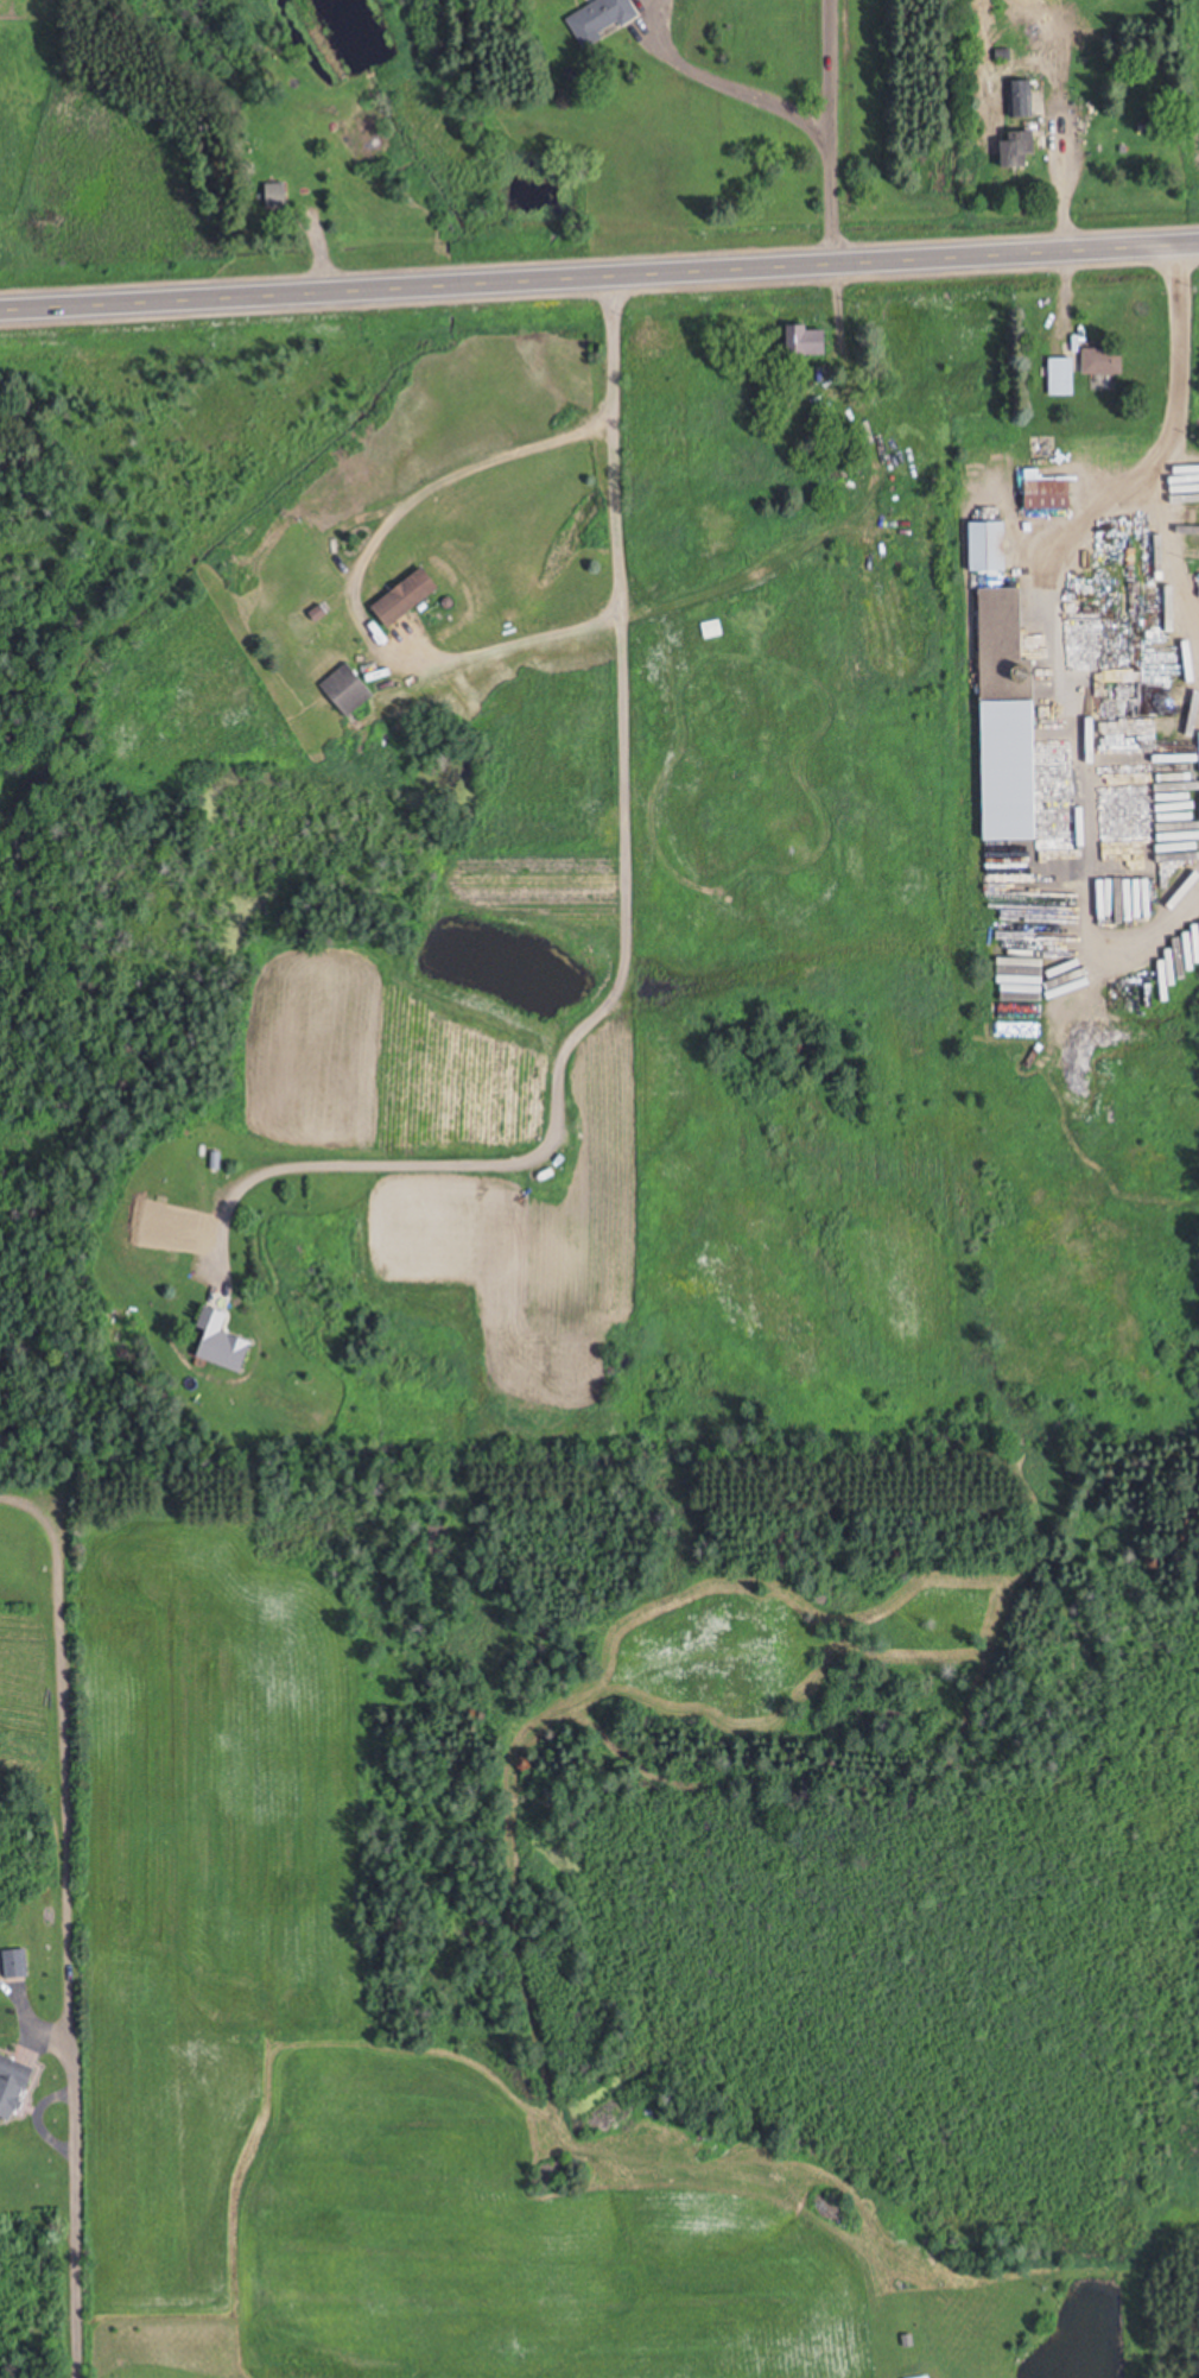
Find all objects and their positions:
building: (602, 19)
building: (1021, 147)
building: (279, 197)
road: (598, 274)
building: (808, 341)
building: (1104, 361)
building: (1061, 377)
building: (979, 492)
building: (1048, 494)
building: (990, 546)
building: (407, 596)
building: (1002, 611)
building: (712, 628)
building: (995, 681)
building: (348, 689)
building: (1015, 770)
building: (223, 1342)
building: (14, 1963)
building: (14, 2083)
building: (925, 2377)

